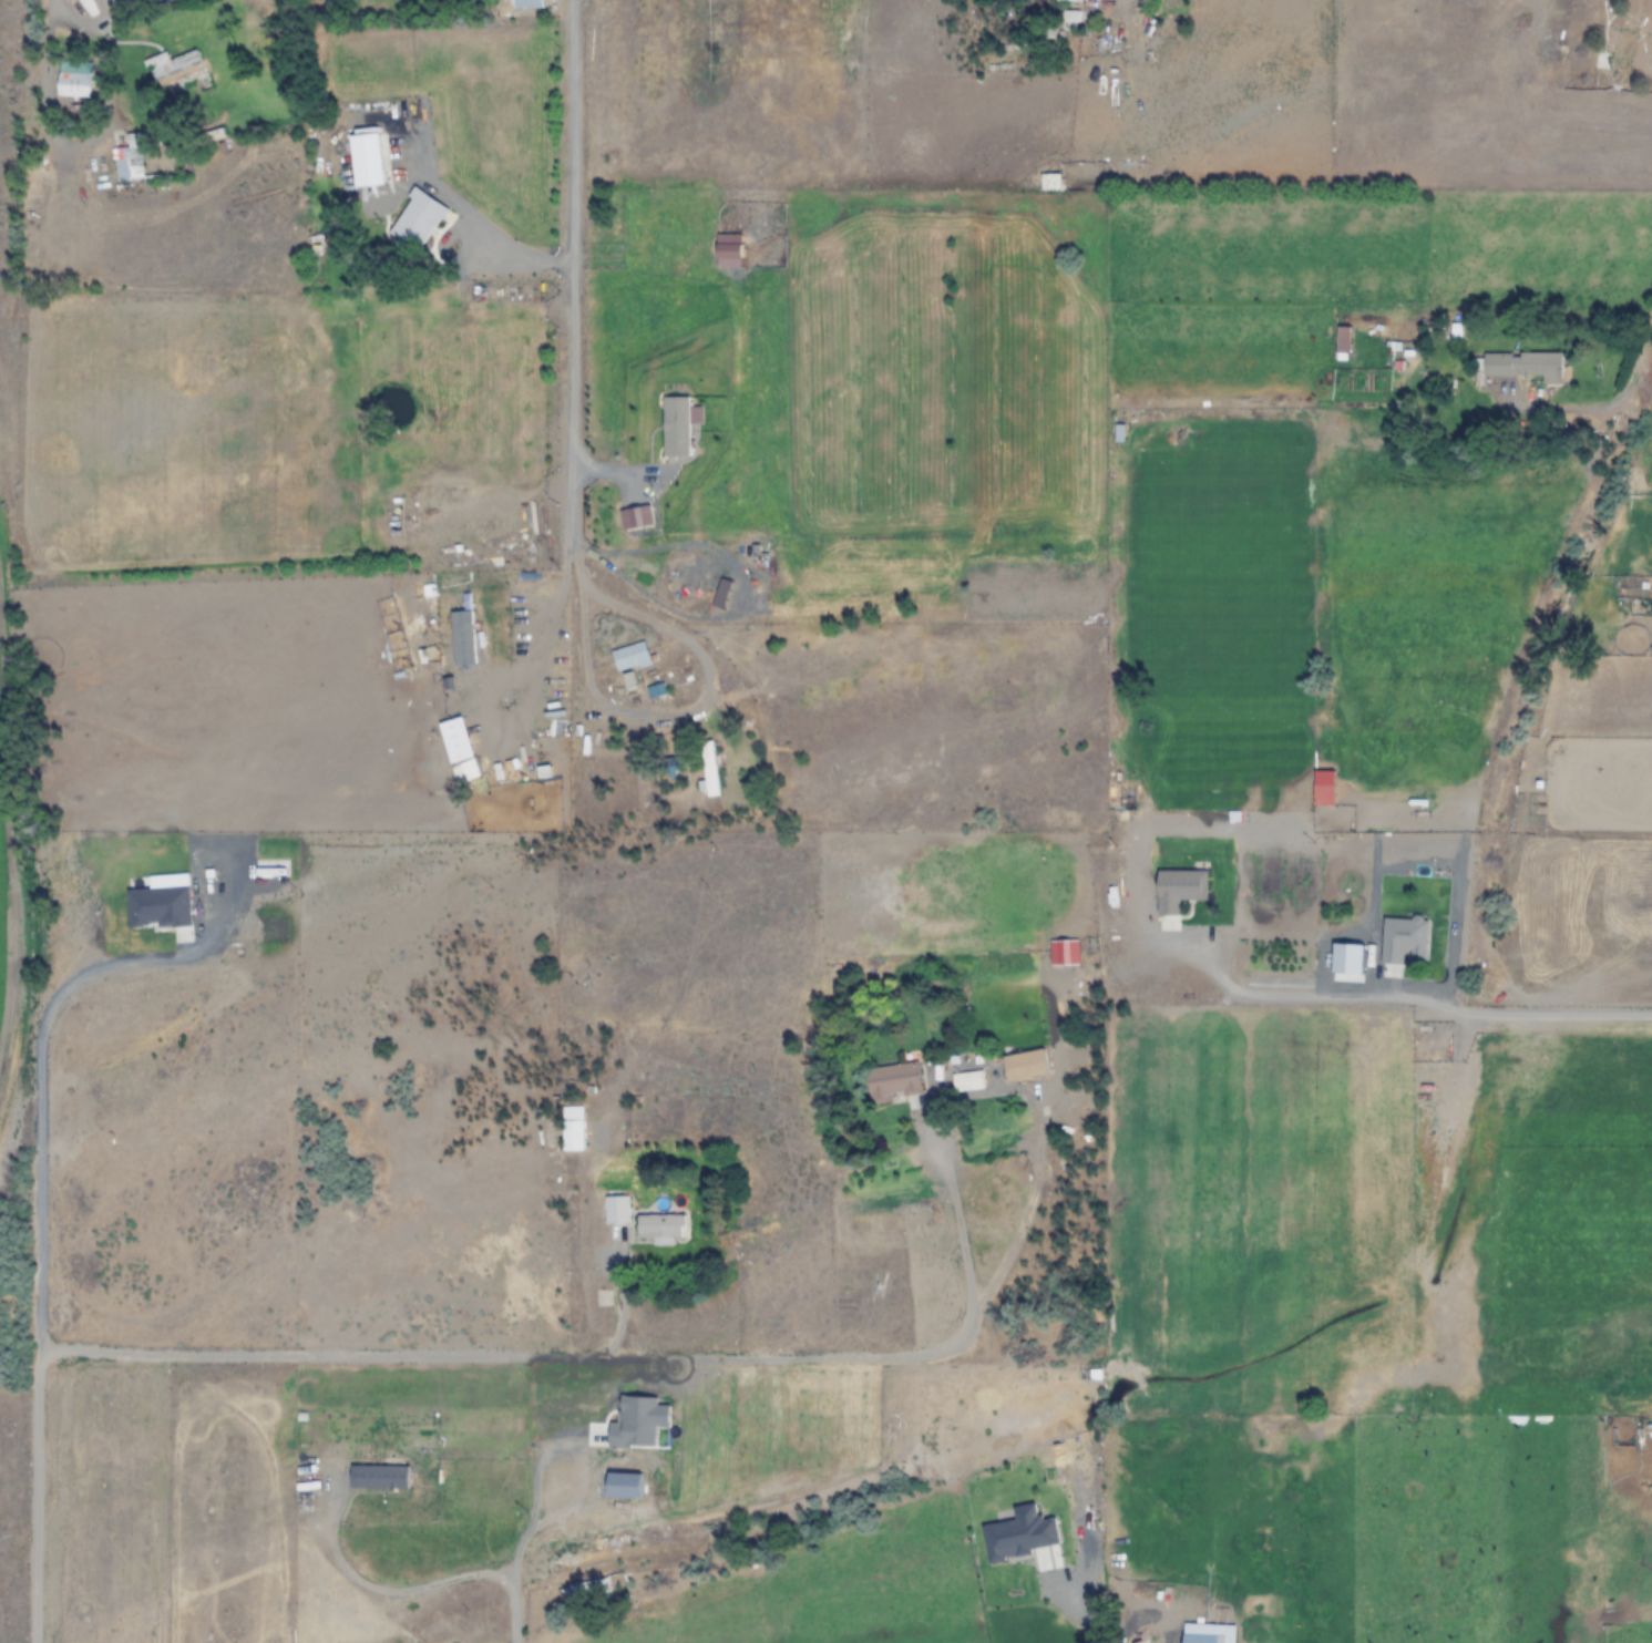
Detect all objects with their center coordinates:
building: (1068, 0)
building: (529, 3)
building: (1515, 19)
building: (1617, 55)
building: (174, 68)
building: (75, 80)
building: (368, 160)
building: (131, 161)
building: (1050, 182)
building: (415, 224)
road: (573, 292)
building: (1525, 366)
road: (1636, 372)
building: (1120, 433)
building: (632, 657)
building: (710, 769)
crop: (825, 821)
building: (1181, 891)
building: (1405, 939)
road: (1451, 1019)
building: (893, 1081)
building: (573, 1128)
building: (617, 1209)
building: (660, 1225)
road: (413, 1355)
building: (586, 1593)
building: (1203, 1637)

